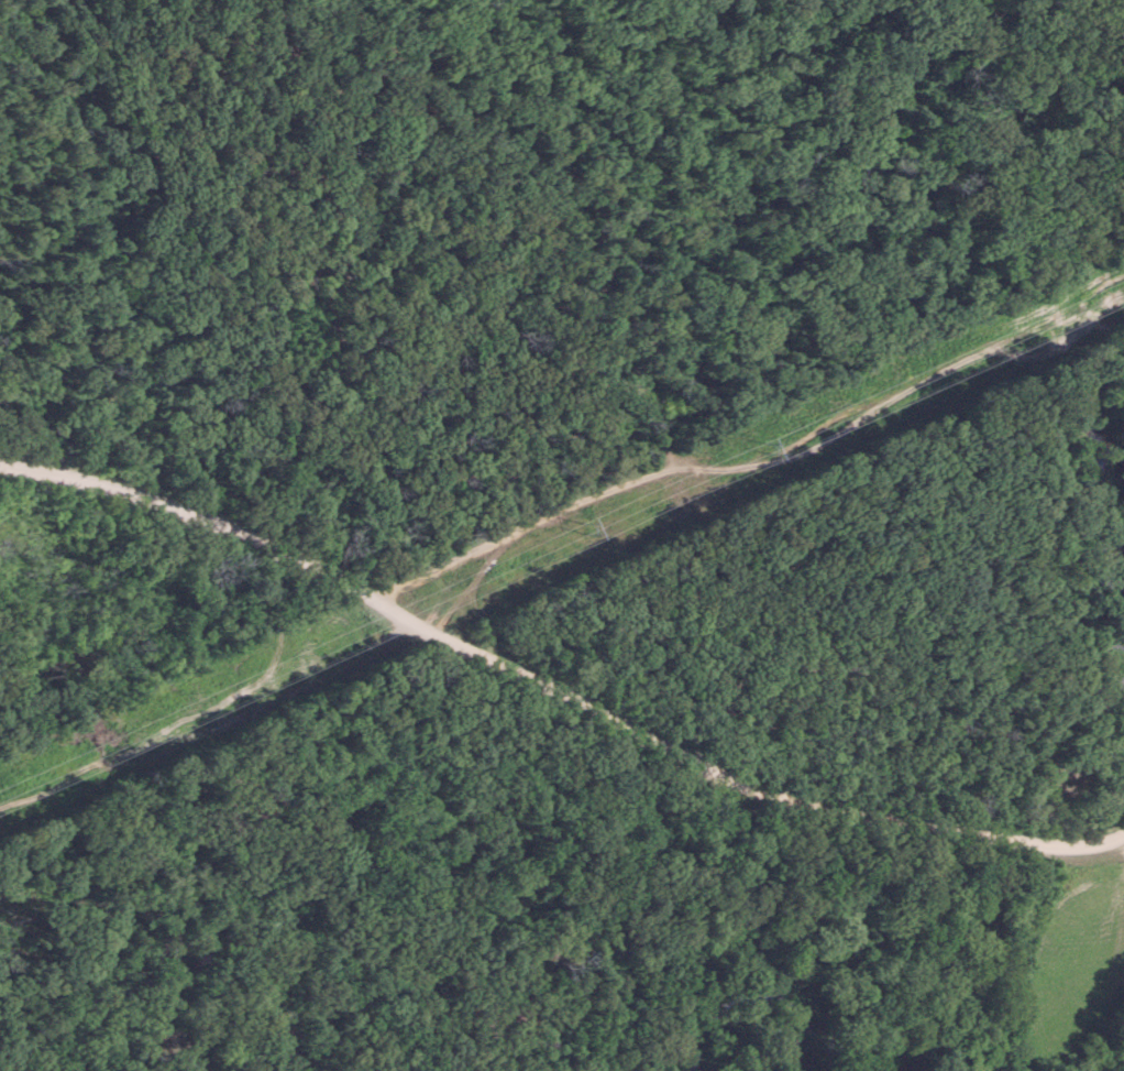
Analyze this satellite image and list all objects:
road: (765, 457)
road: (554, 687)
road: (212, 720)

